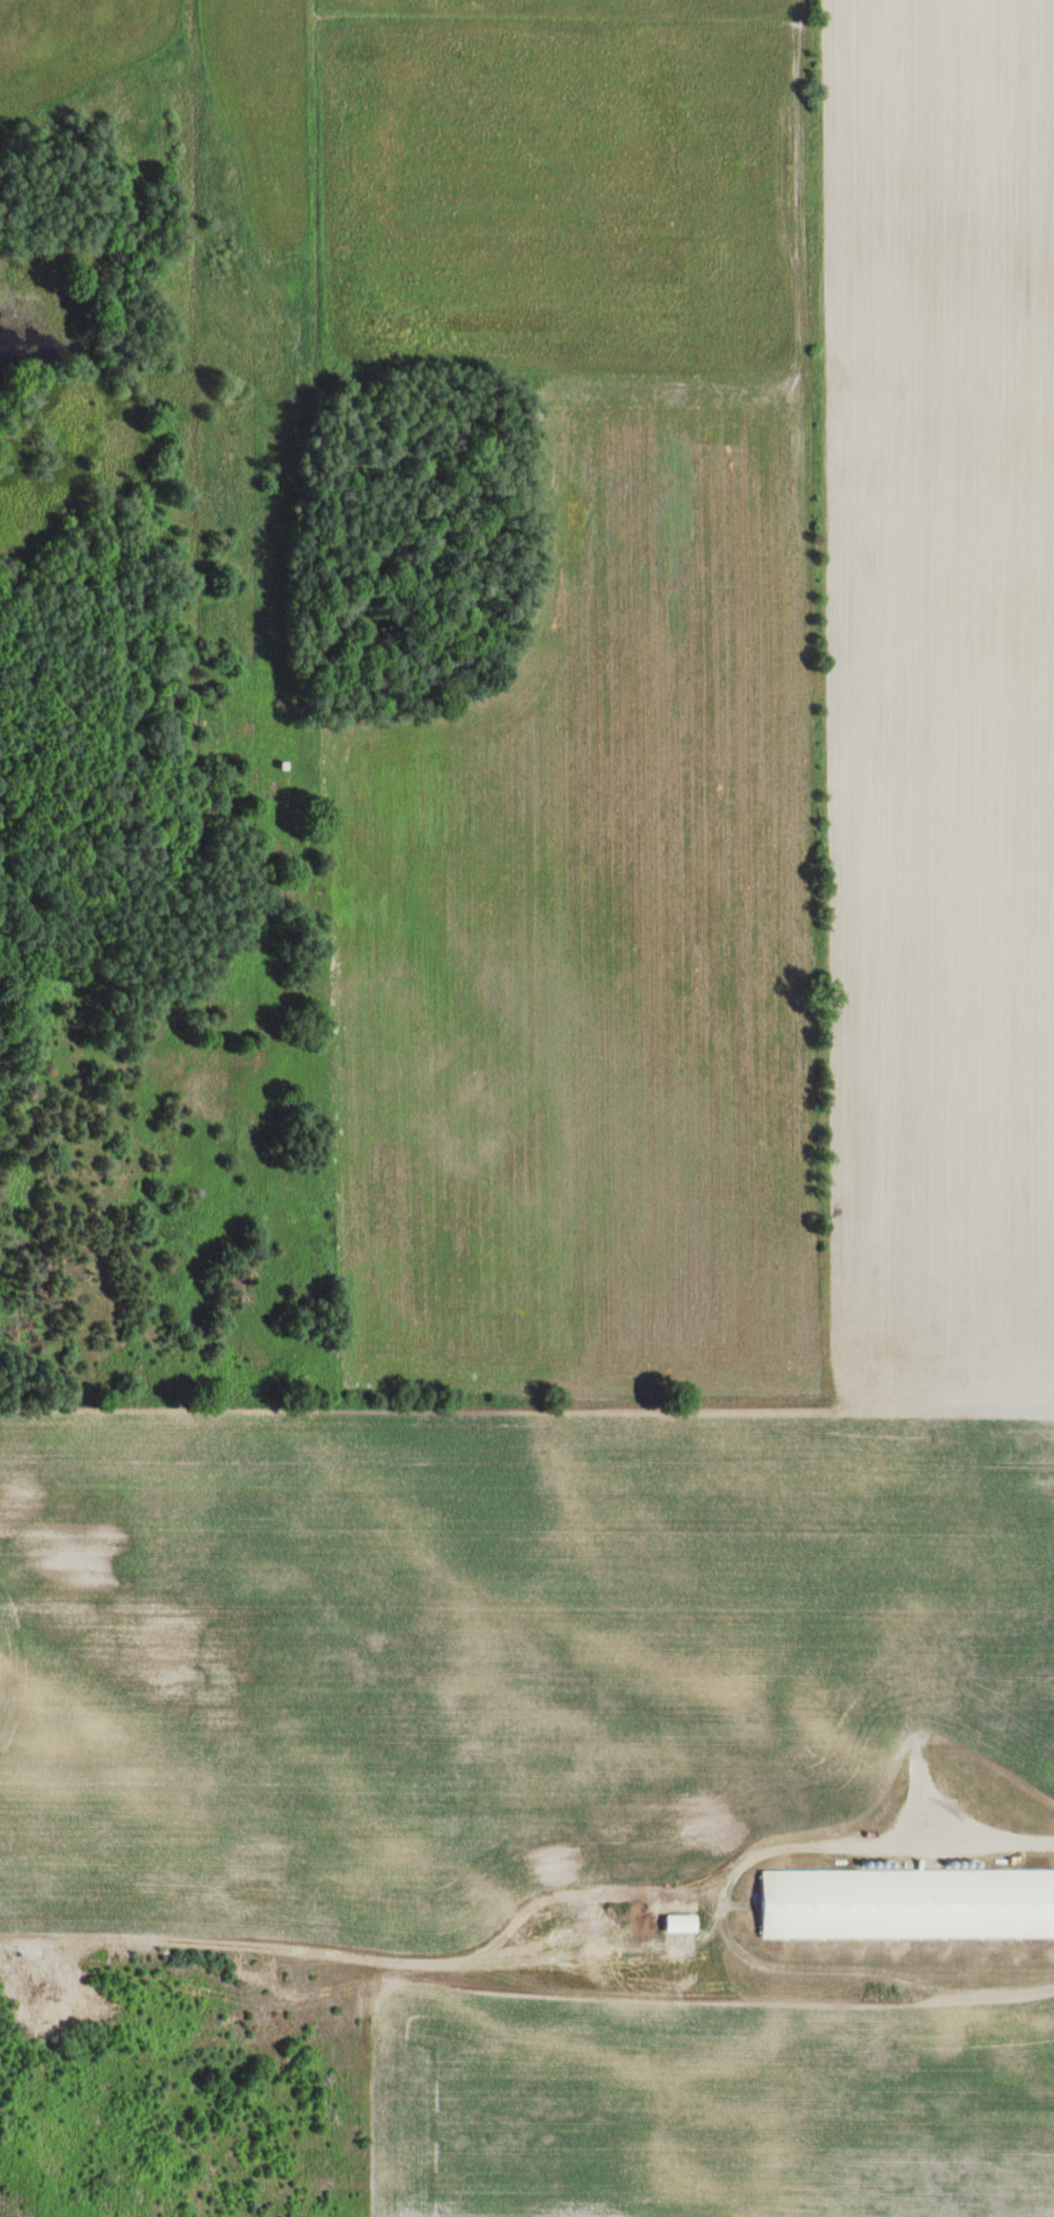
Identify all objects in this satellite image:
building: (907, 1904)
building: (683, 1925)

